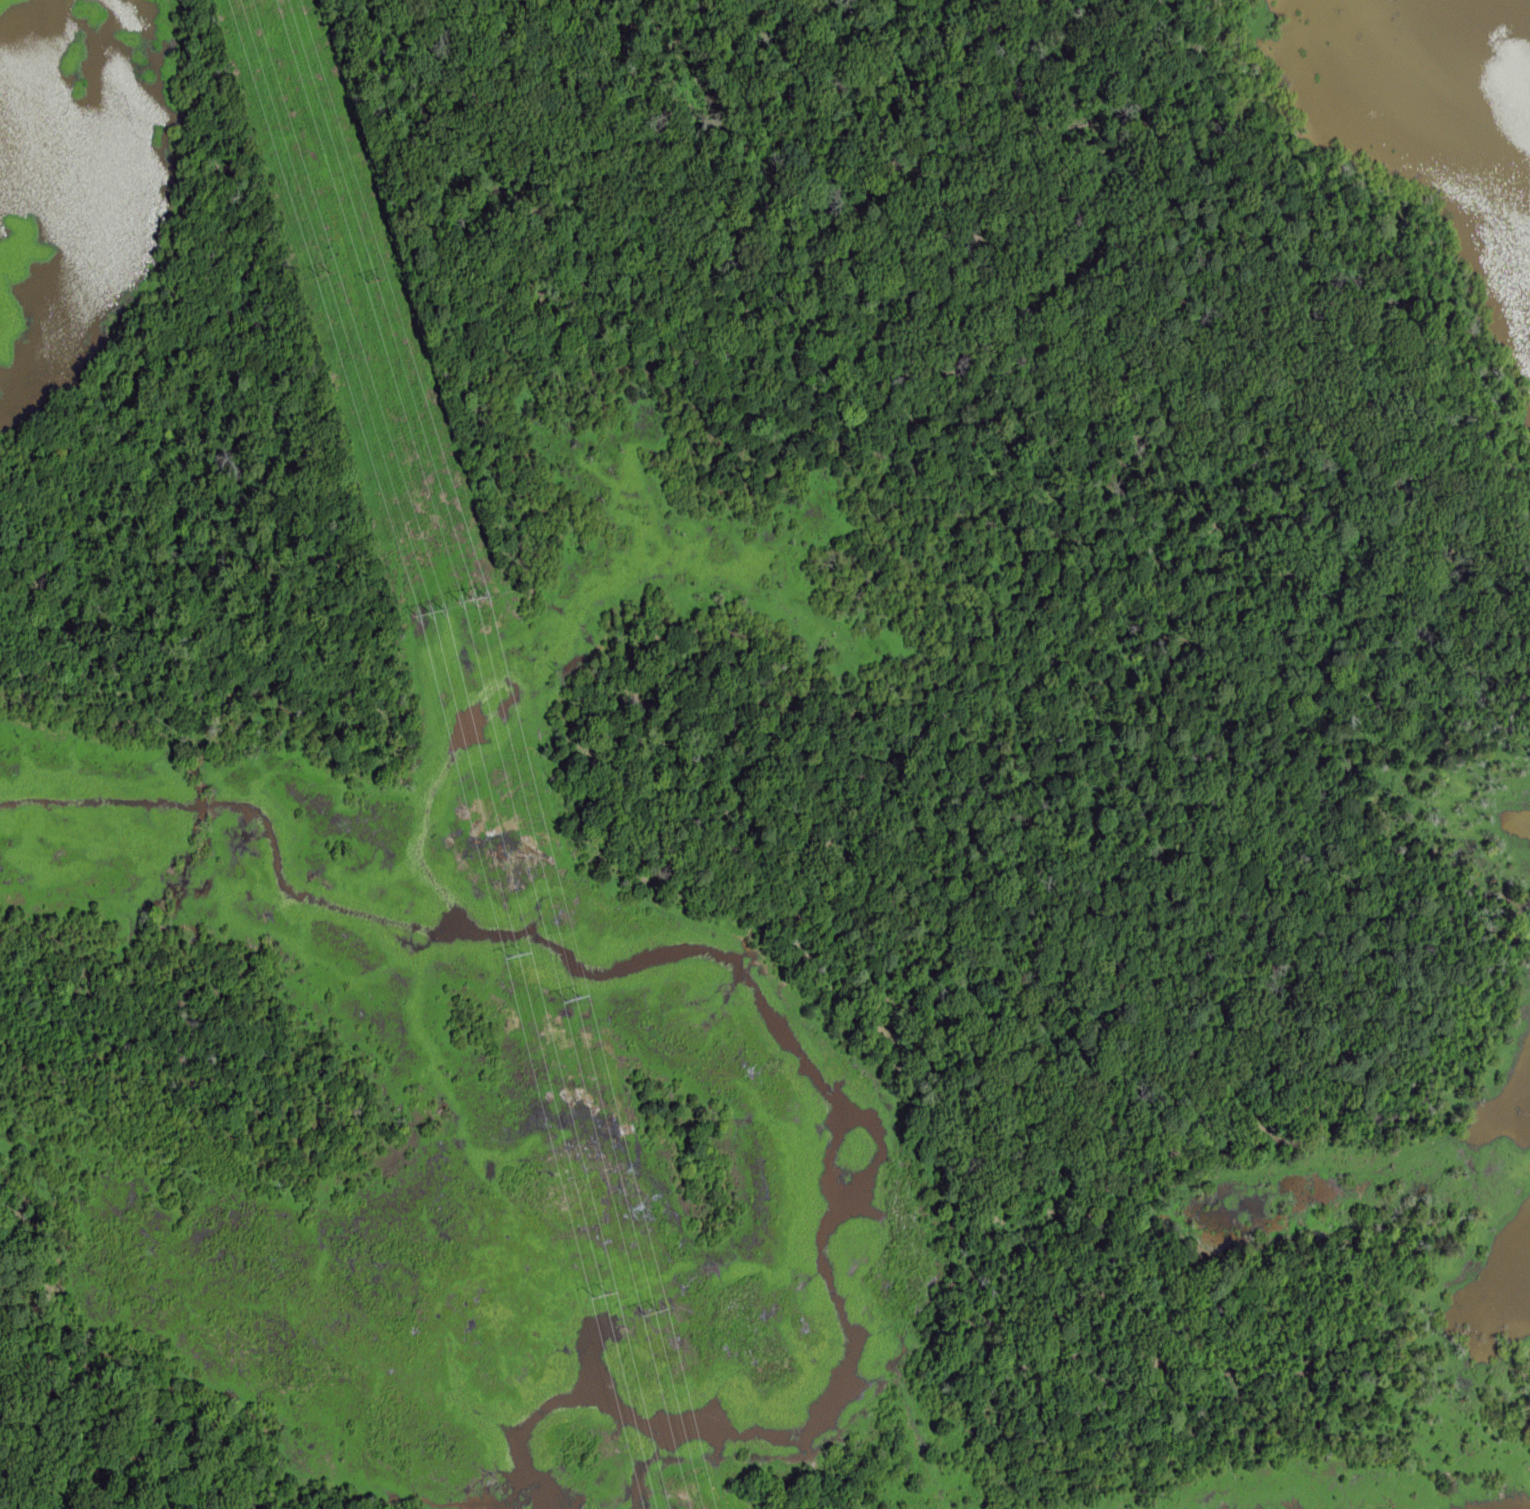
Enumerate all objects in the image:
power tower: (325, 275)
power tower: (369, 281)
power tower: (473, 600)
power tower: (429, 614)
power tower: (515, 958)
power tower: (570, 1004)
power tower: (600, 1299)
power tower: (652, 1317)

